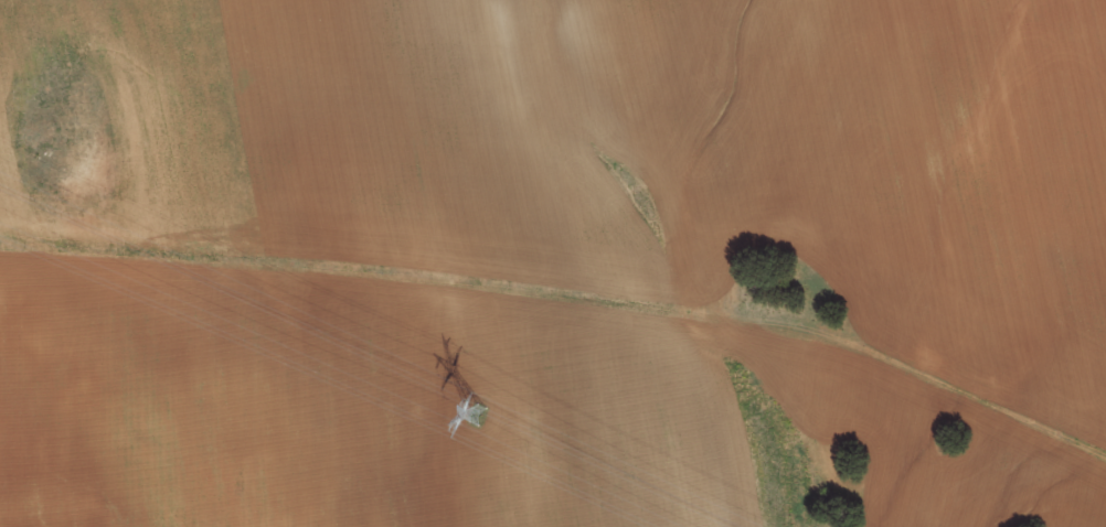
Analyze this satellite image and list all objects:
power tower: (470, 413)

